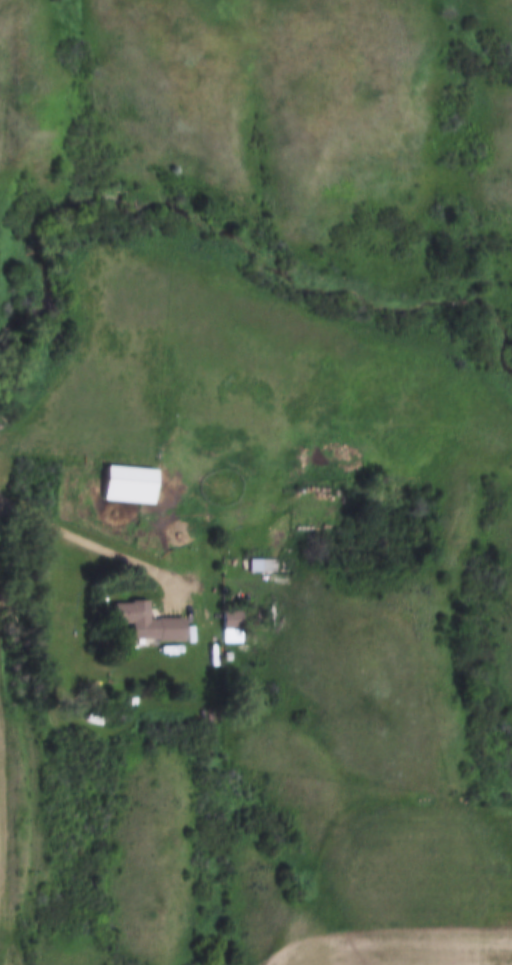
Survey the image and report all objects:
building: (131, 486)
road: (104, 545)
building: (263, 566)
building: (230, 621)
building: (148, 624)

